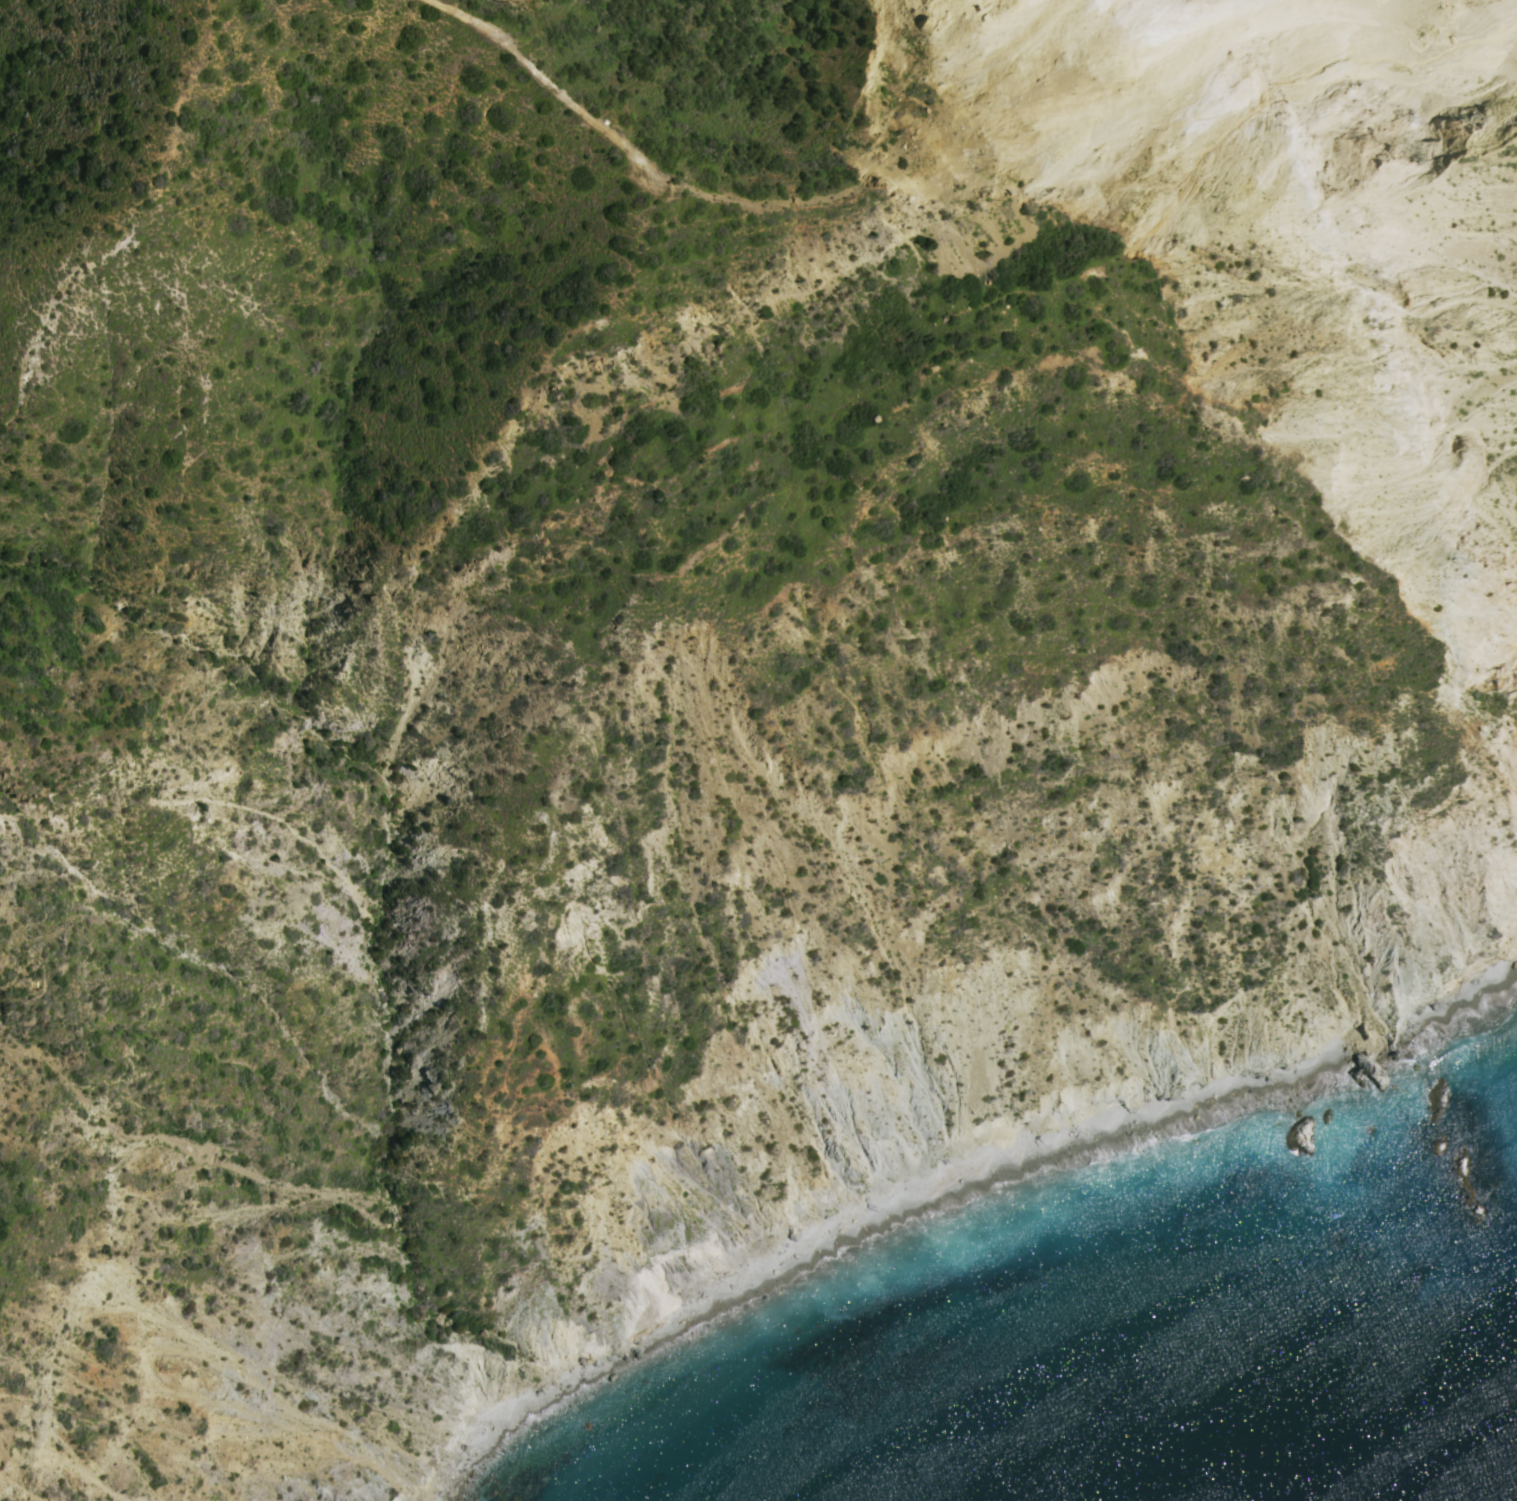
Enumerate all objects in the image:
road: (629, 154)
quarry: (1276, 222)

